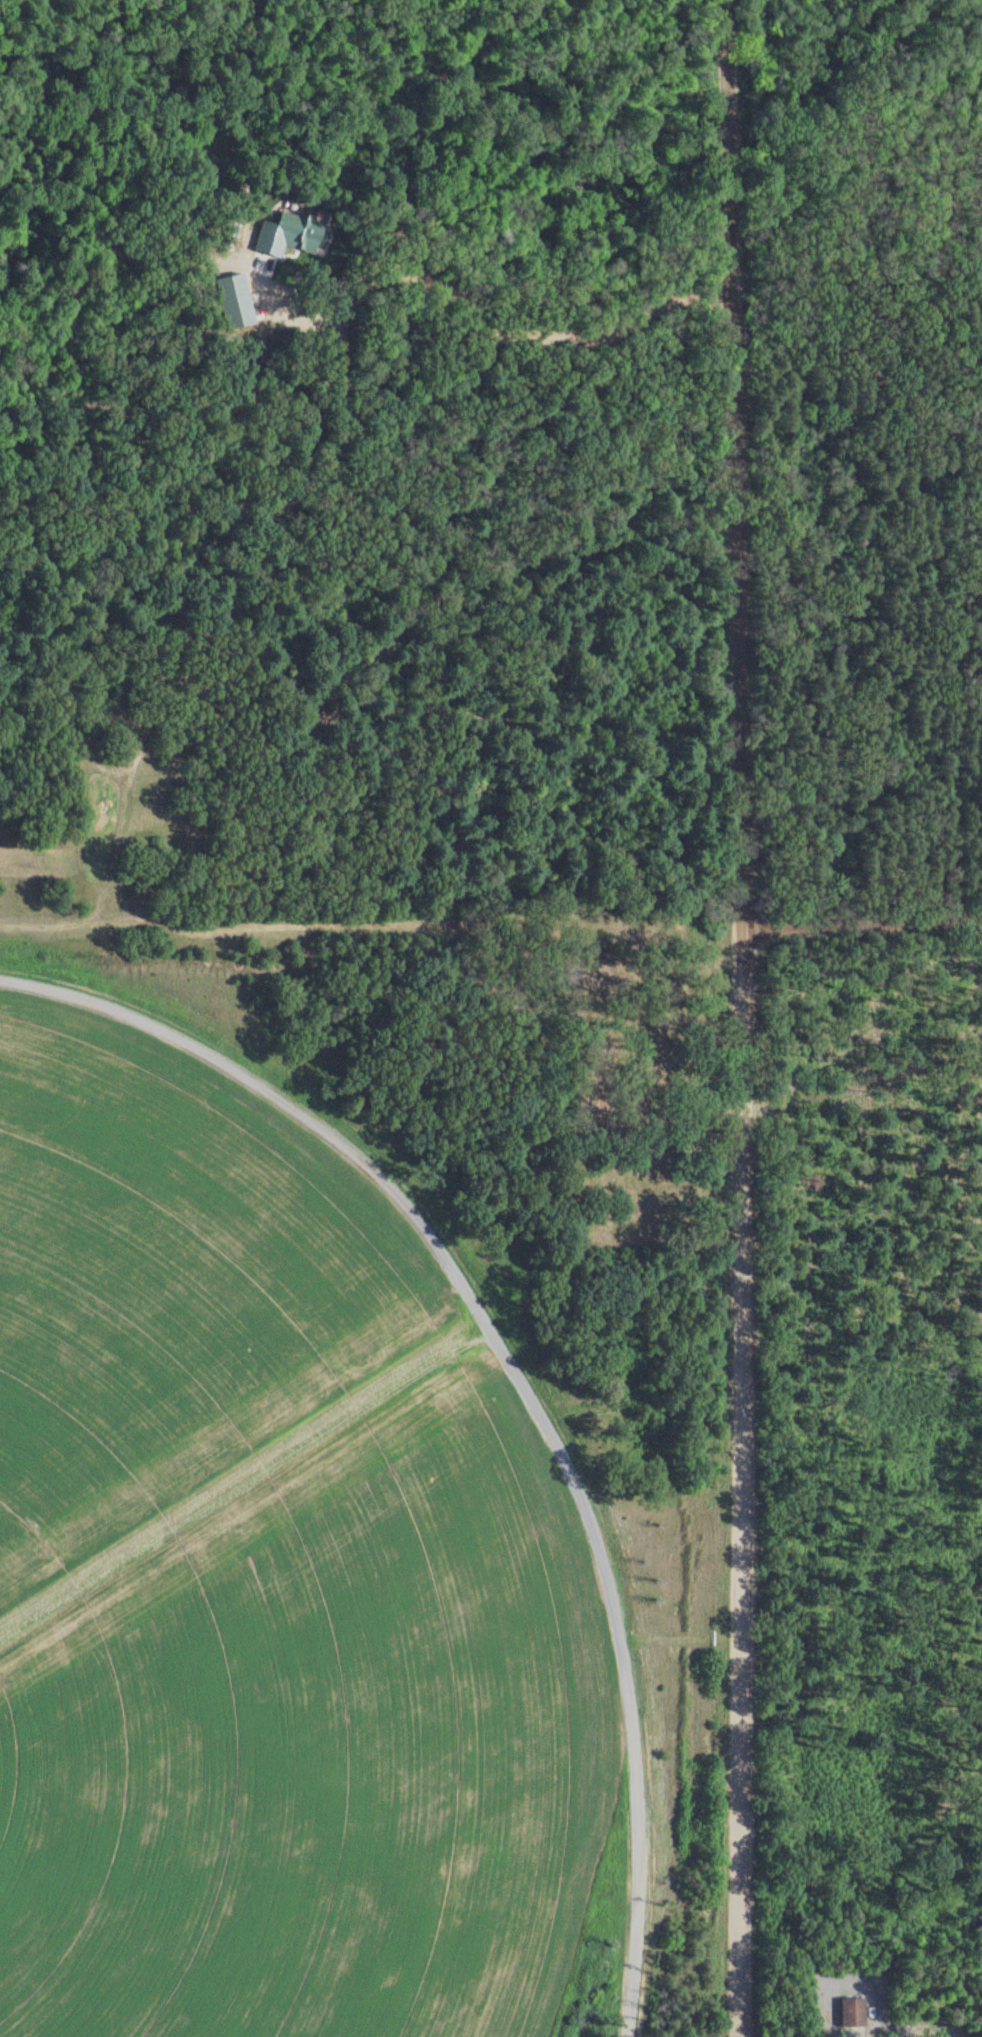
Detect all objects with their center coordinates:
road: (724, 39)
road: (725, 89)
building: (288, 232)
building: (234, 299)
road: (475, 312)
road: (491, 928)
road: (740, 1068)
park: (628, 1101)
wastewater plant: (305, 1558)
building: (852, 2011)
road: (904, 2027)

